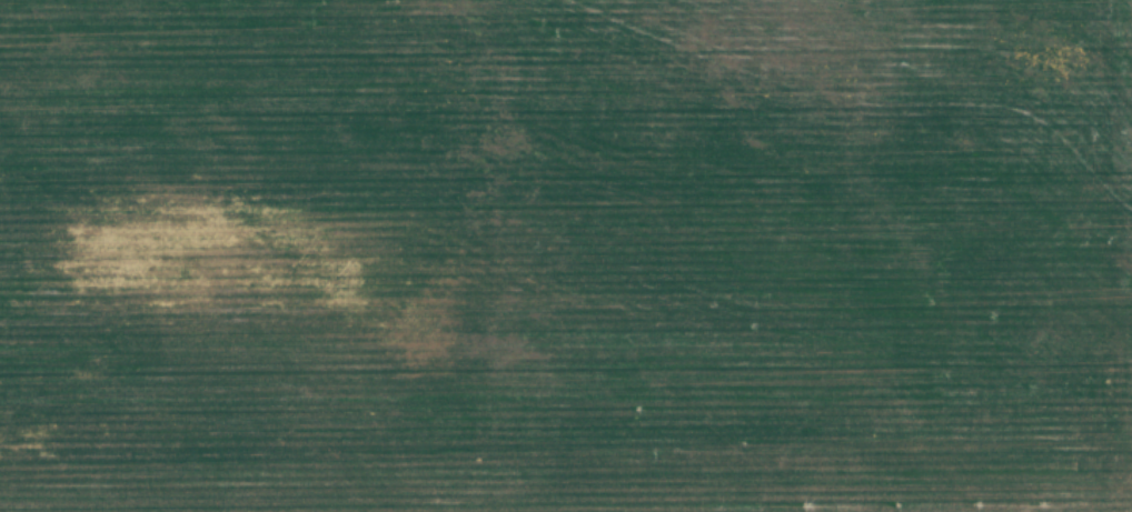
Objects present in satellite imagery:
crop: (566, 255)

